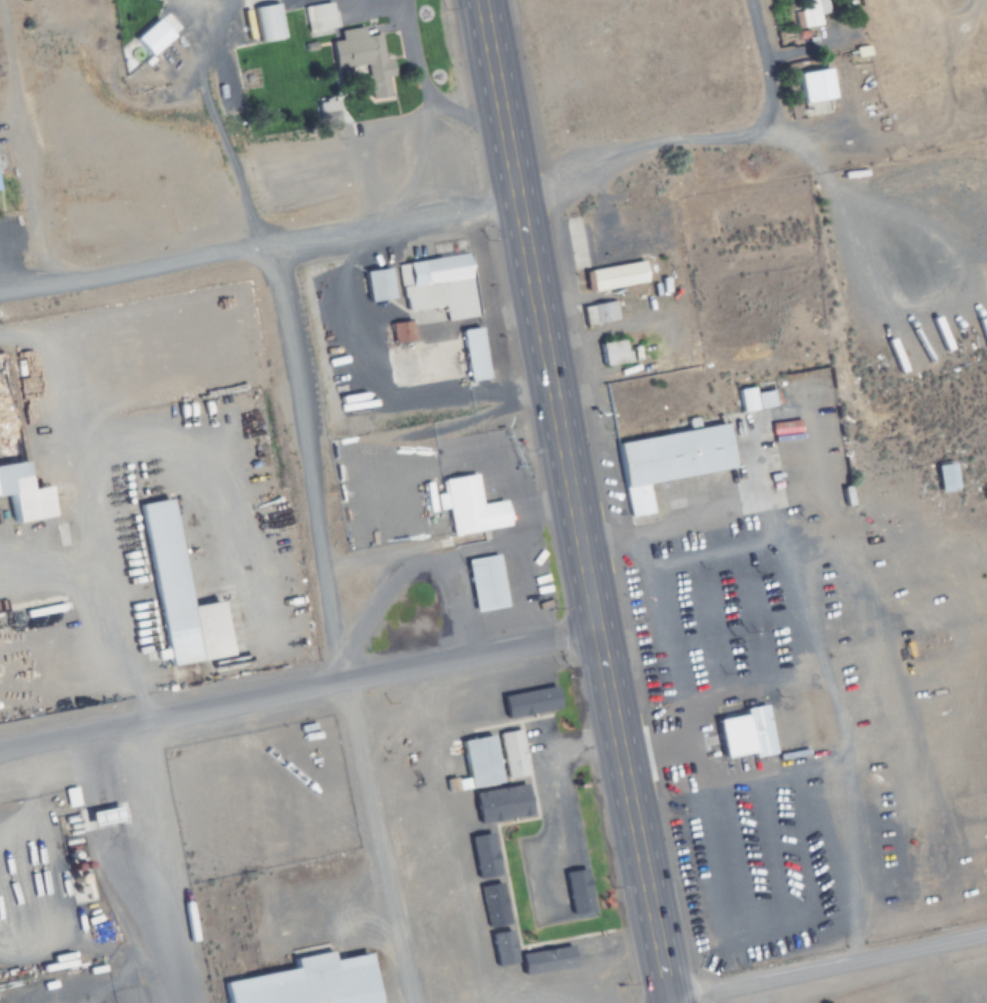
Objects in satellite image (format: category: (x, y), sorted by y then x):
road: (985, 8)
building: (810, 13)
building: (318, 18)
building: (266, 22)
building: (363, 57)
road: (765, 68)
building: (814, 92)
road: (748, 137)
road: (22, 152)
building: (1, 179)
road: (838, 202)
road: (388, 218)
building: (15, 247)
road: (129, 268)
building: (613, 277)
building: (438, 283)
building: (376, 285)
building: (599, 313)
building: (398, 333)
building: (612, 353)
building: (472, 355)
building: (741, 400)
road: (304, 459)
building: (667, 462)
building: (942, 476)
building: (15, 491)
building: (460, 500)
road: (573, 501)
road: (101, 518)
building: (693, 572)
building: (768, 576)
building: (479, 577)
building: (170, 587)
building: (749, 600)
road: (471, 652)
building: (526, 704)
road: (172, 714)
building: (744, 736)
building: (511, 754)
building: (309, 762)
building: (478, 762)
building: (503, 804)
road: (377, 840)
building: (488, 850)
road: (165, 862)
building: (494, 902)
building: (503, 951)
building: (567, 958)
road: (834, 968)
building: (300, 980)

